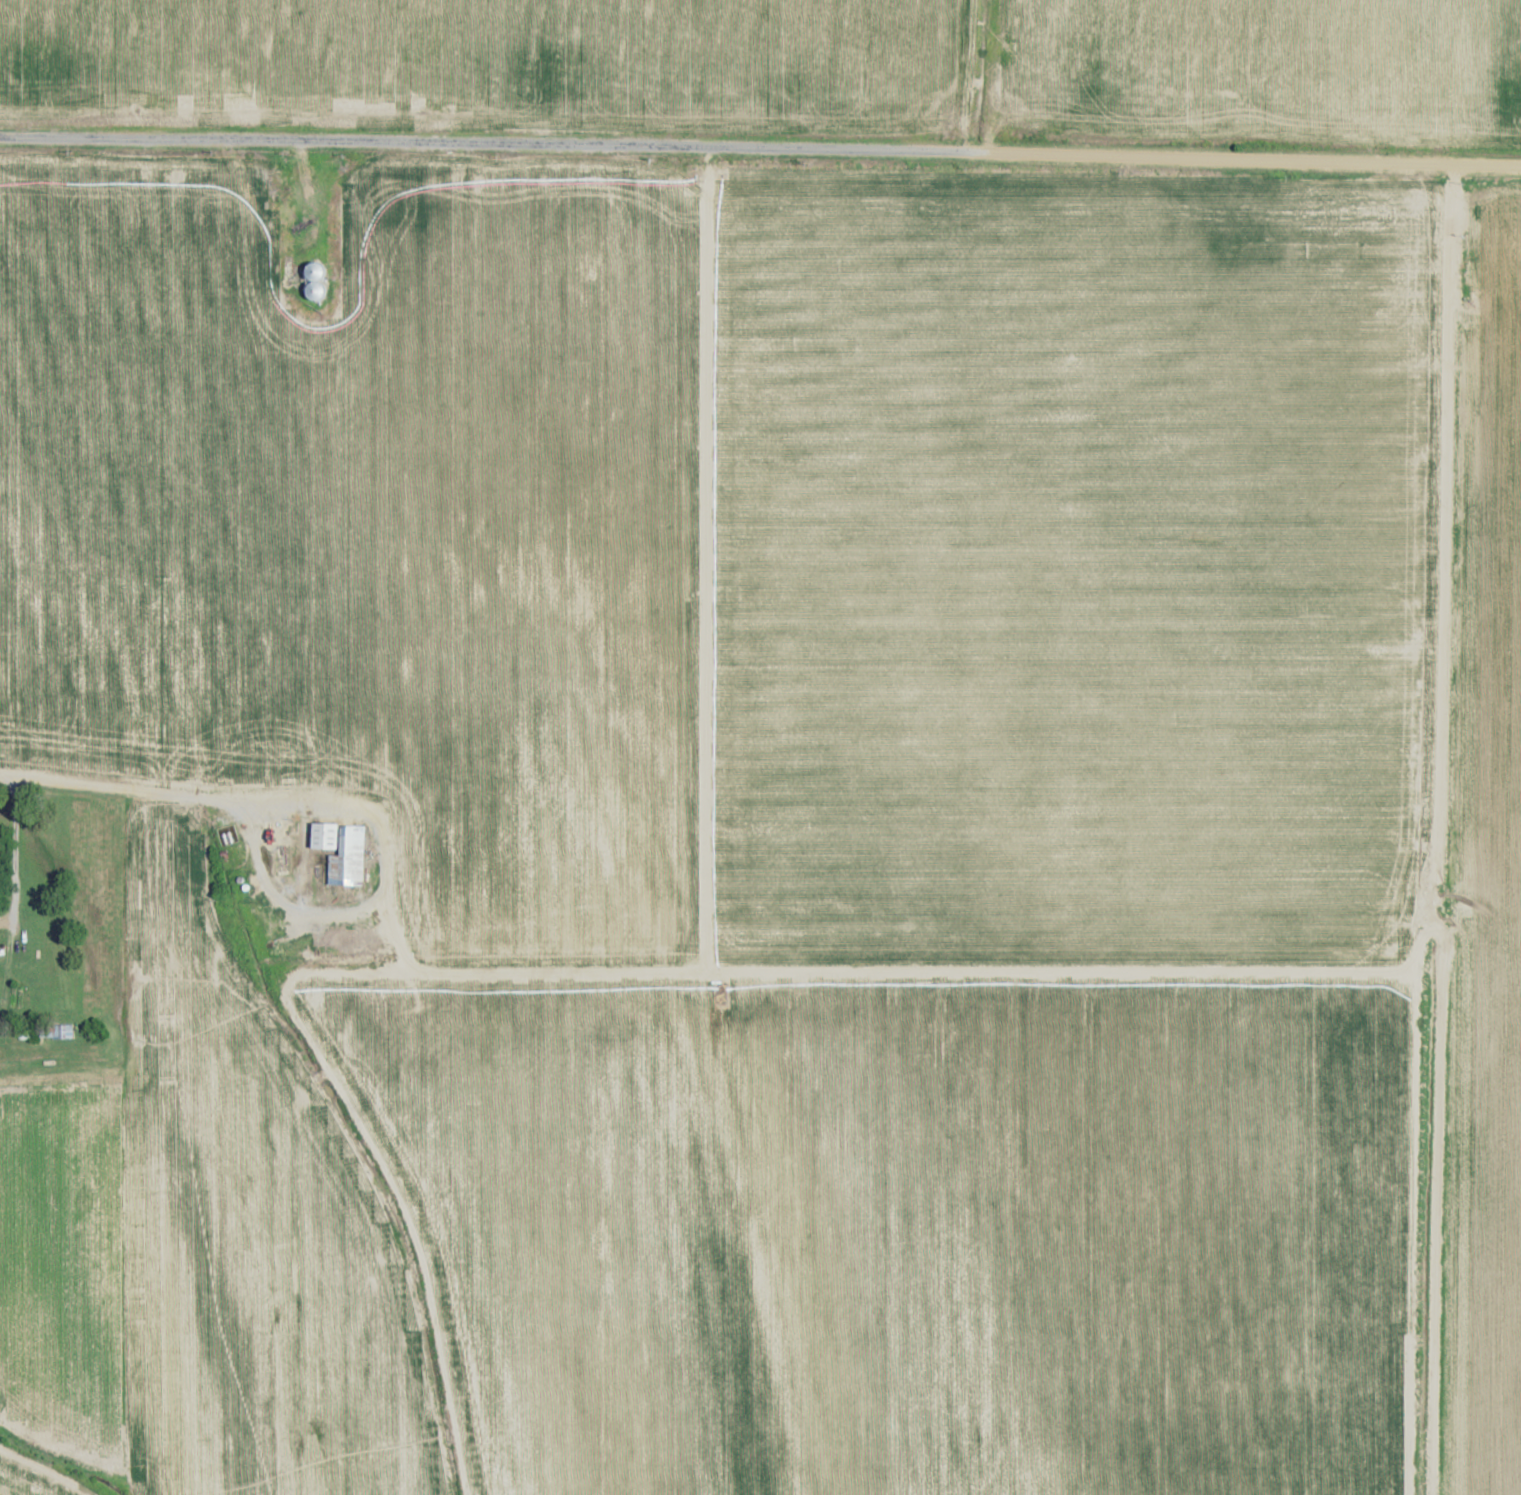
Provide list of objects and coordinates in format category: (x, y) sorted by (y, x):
road: (984, 77)
road: (760, 151)
building: (315, 279)
road: (118, 792)
road: (1437, 831)
building: (340, 853)
road: (379, 854)
building: (63, 1033)
road: (41, 1471)

